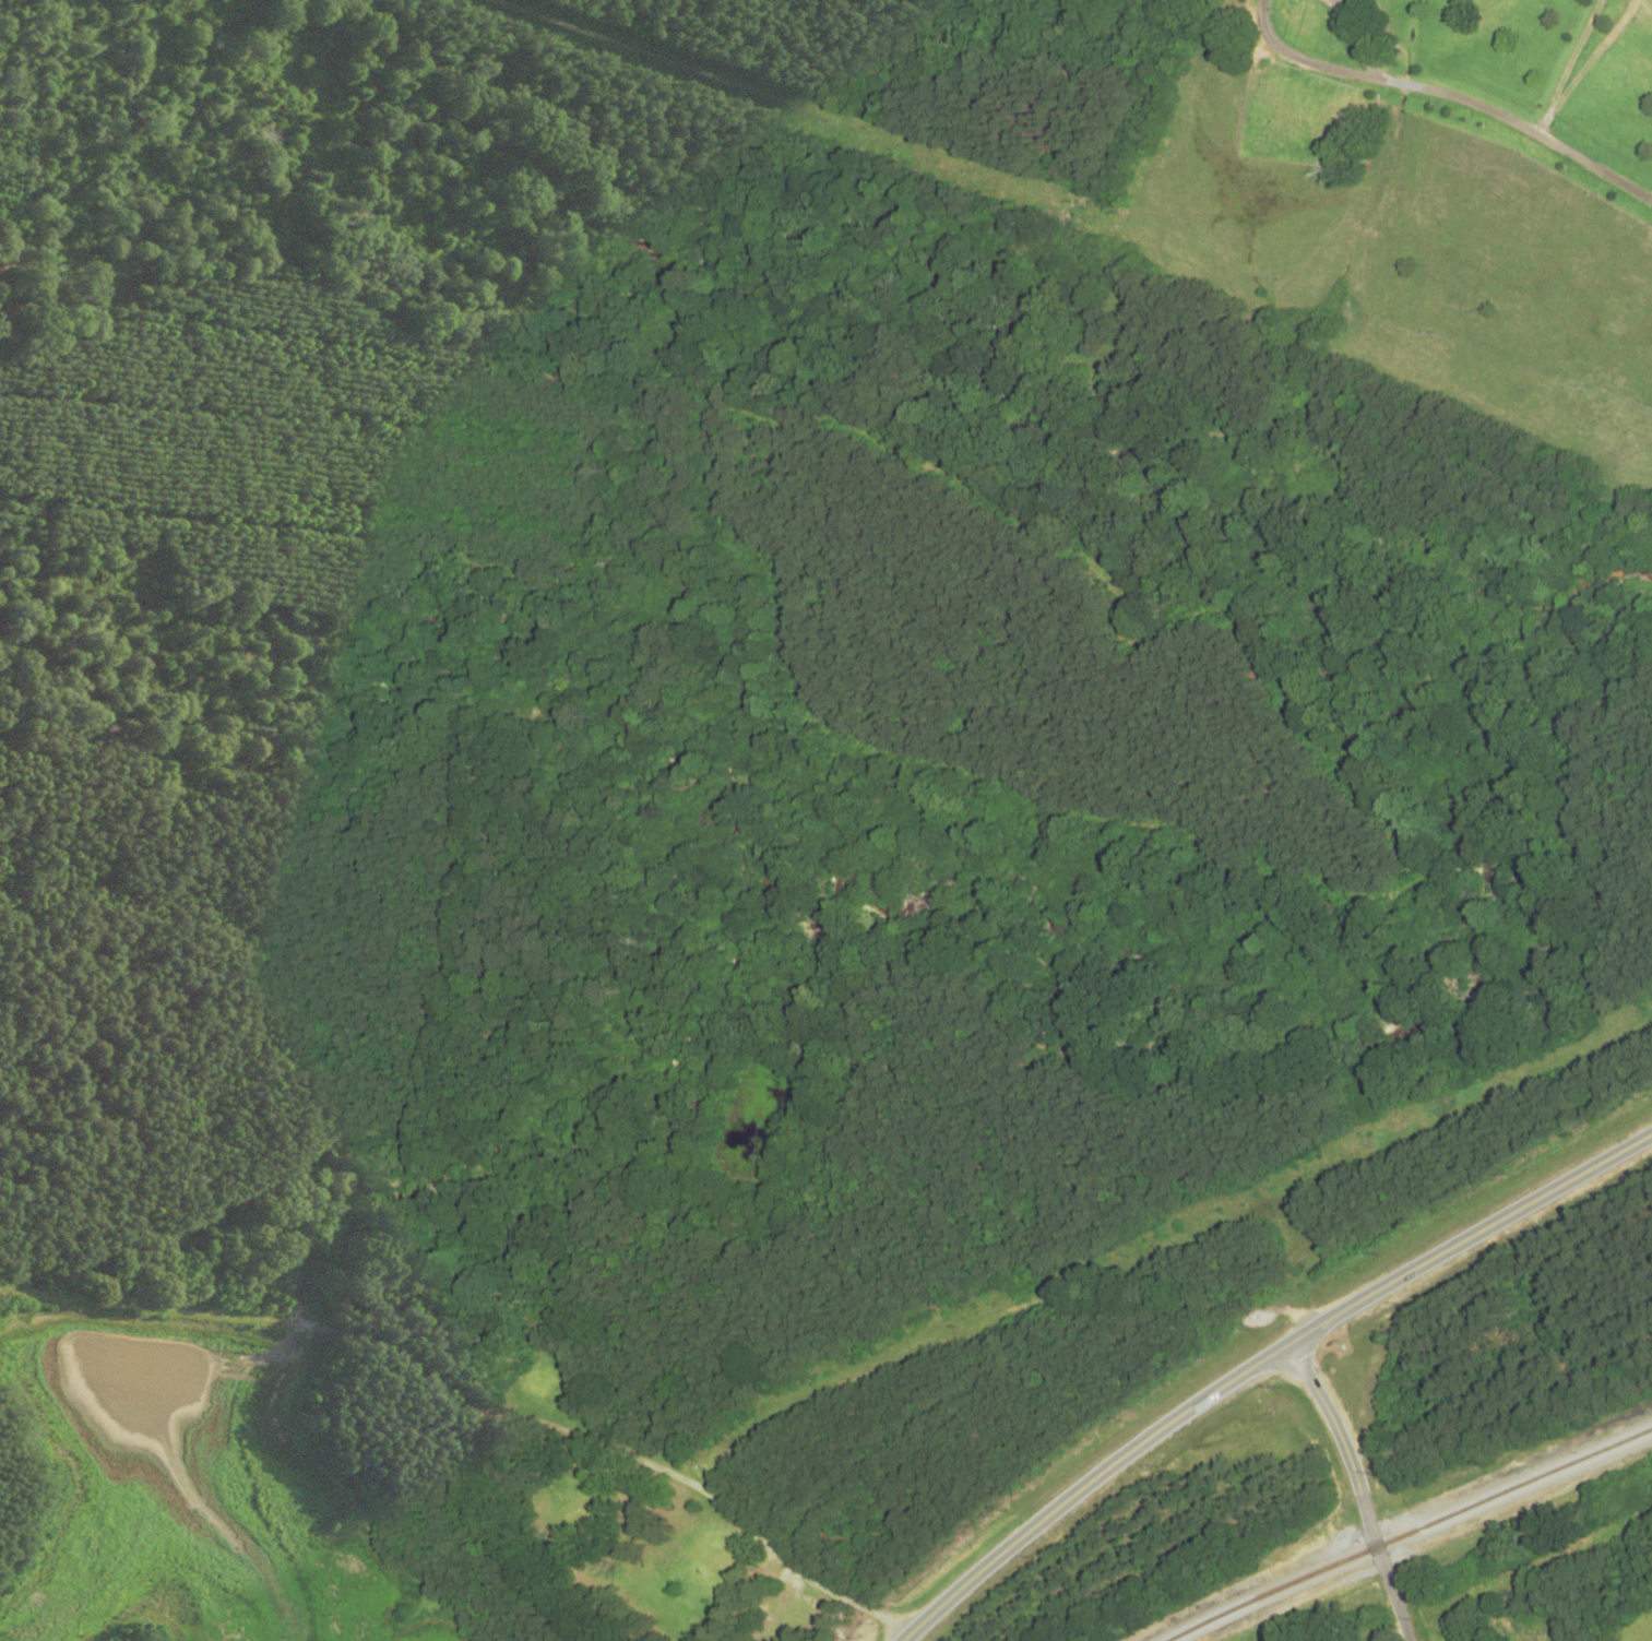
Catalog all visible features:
road: (1304, 59)
road: (1479, 107)
road: (1259, 1358)
building: (535, 1382)
road: (1359, 1484)
building: (574, 1499)
road: (721, 1523)
railway: (1410, 1531)
building: (712, 1557)

